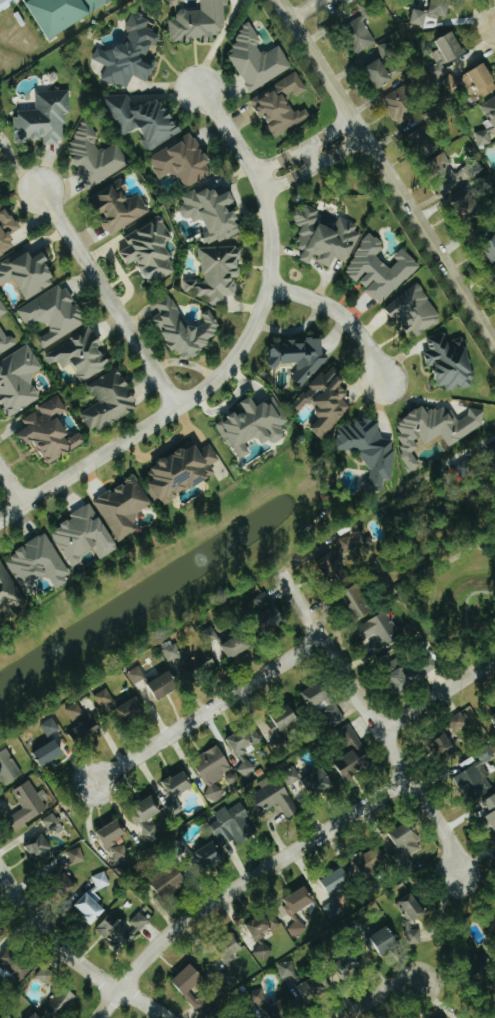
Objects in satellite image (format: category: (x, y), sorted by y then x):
building: (7, 4)
road: (307, 8)
building: (432, 12)
building: (64, 13)
building: (200, 22)
building: (359, 35)
building: (452, 47)
building: (390, 48)
building: (131, 54)
building: (258, 59)
building: (372, 61)
building: (438, 71)
building: (380, 74)
building: (473, 81)
building: (282, 104)
building: (402, 104)
building: (45, 117)
building: (145, 119)
building: (487, 123)
road: (329, 131)
building: (421, 138)
building: (1, 150)
road: (341, 151)
building: (95, 155)
road: (312, 155)
road: (279, 159)
building: (183, 161)
road: (387, 172)
road: (291, 179)
building: (121, 207)
building: (214, 212)
building: (7, 228)
building: (325, 237)
building: (491, 244)
building: (151, 250)
building: (380, 269)
building: (28, 272)
building: (217, 273)
road: (108, 299)
building: (3, 310)
building: (415, 311)
road: (342, 312)
building: (54, 314)
building: (187, 328)
building: (6, 341)
building: (81, 354)
road: (239, 355)
building: (299, 356)
building: (451, 361)
building: (19, 380)
building: (110, 400)
building: (329, 400)
building: (254, 424)
building: (435, 429)
building: (51, 430)
building: (493, 446)
building: (370, 450)
building: (184, 471)
road: (11, 488)
building: (124, 507)
building: (86, 535)
building: (341, 556)
building: (39, 563)
building: (8, 588)
building: (360, 602)
building: (268, 612)
building: (380, 629)
building: (238, 645)
building: (192, 661)
building: (423, 671)
building: (137, 675)
building: (164, 685)
road: (437, 694)
building: (105, 699)
building: (325, 703)
building: (131, 710)
road: (207, 710)
building: (494, 715)
building: (283, 719)
road: (372, 721)
building: (82, 722)
building: (460, 722)
building: (51, 726)
building: (245, 741)
building: (447, 749)
building: (51, 753)
building: (353, 754)
building: (9, 767)
building: (247, 768)
building: (214, 770)
building: (477, 777)
building: (319, 782)
building: (180, 784)
building: (278, 793)
building: (28, 804)
building: (491, 809)
building: (147, 817)
building: (53, 824)
building: (234, 825)
building: (113, 833)
building: (407, 840)
building: (42, 849)
building: (121, 854)
building: (77, 856)
building: (211, 856)
building: (338, 880)
building: (170, 881)
road: (242, 884)
building: (413, 908)
building: (299, 909)
building: (333, 909)
building: (262, 926)
building: (121, 929)
building: (2, 933)
building: (387, 940)
building: (232, 948)
building: (264, 952)
road: (70, 958)
building: (17, 963)
building: (353, 966)
building: (288, 969)
building: (46, 975)
building: (231, 980)
building: (313, 989)
building: (187, 990)
road: (378, 995)
building: (258, 998)
building: (59, 1001)
building: (285, 1007)
building: (7, 1016)
building: (36, 1016)

